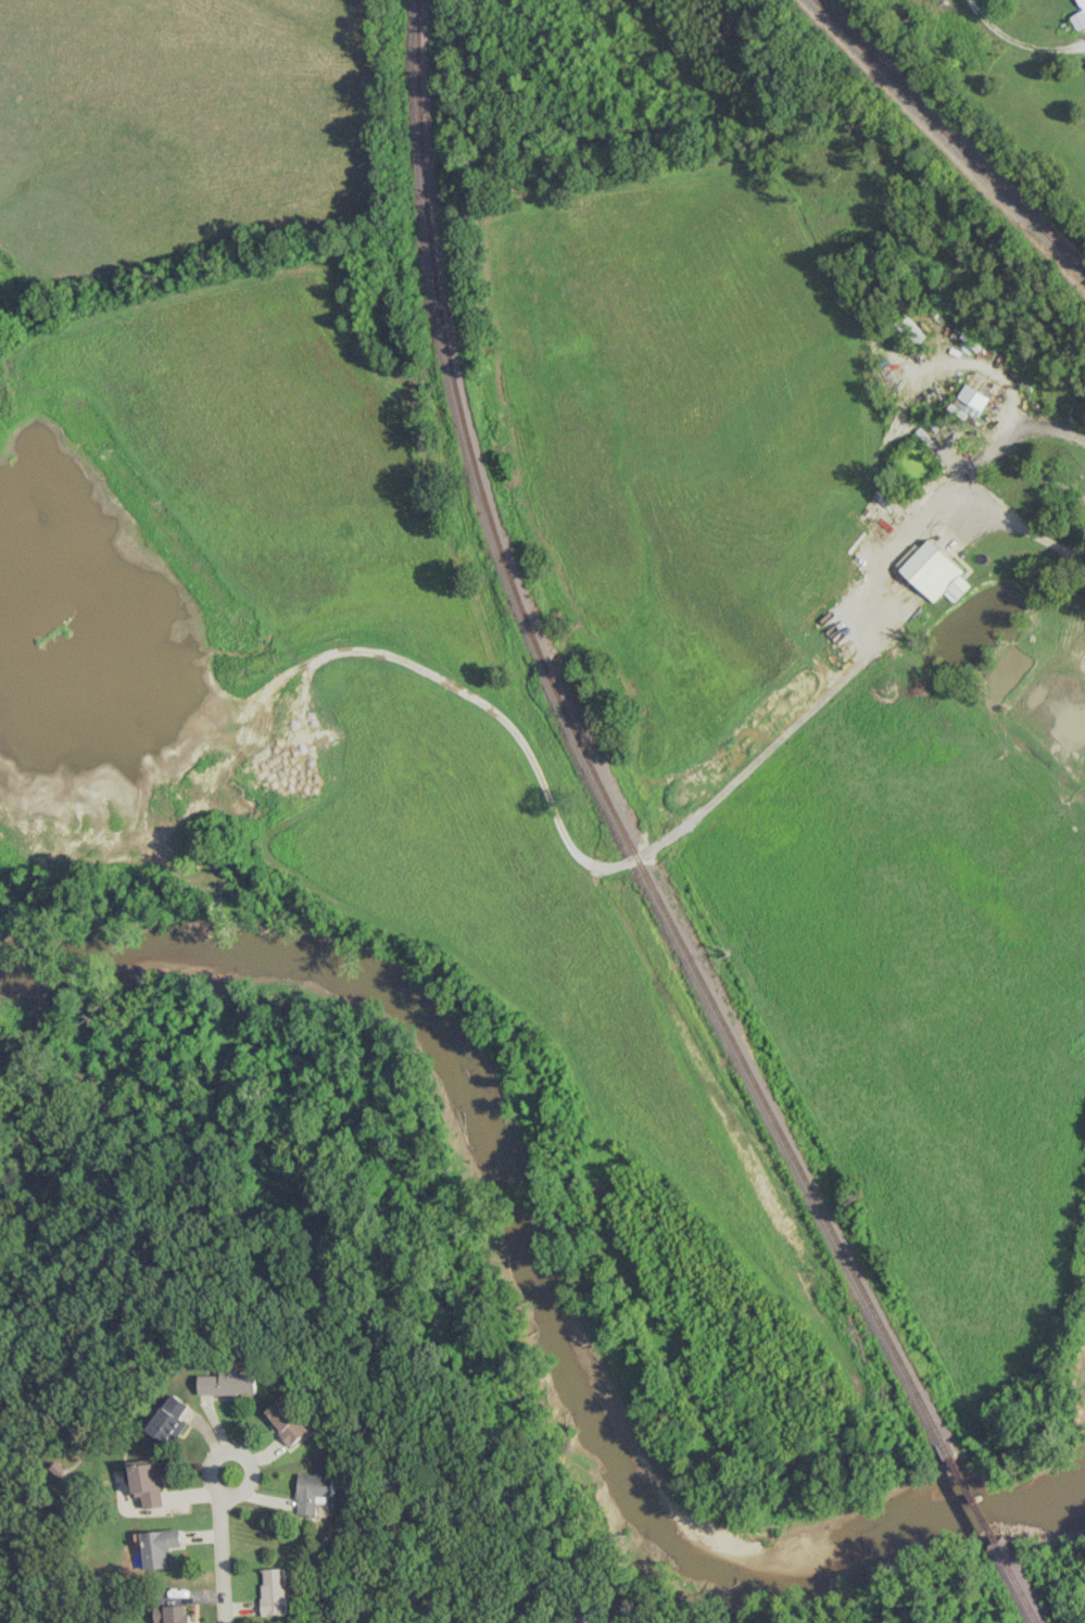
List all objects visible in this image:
road: (1018, 42)
railway: (948, 138)
building: (970, 400)
road: (1060, 436)
road: (980, 503)
road: (901, 544)
building: (934, 573)
railway: (586, 756)
building: (228, 1382)
building: (169, 1419)
building: (288, 1421)
road: (239, 1460)
building: (144, 1483)
building: (314, 1492)
railway: (970, 1497)
building: (159, 1546)
road: (220, 1559)
railway: (1013, 1582)
building: (274, 1590)
park: (1075, 1591)
building: (168, 1613)
building: (585, 1618)

